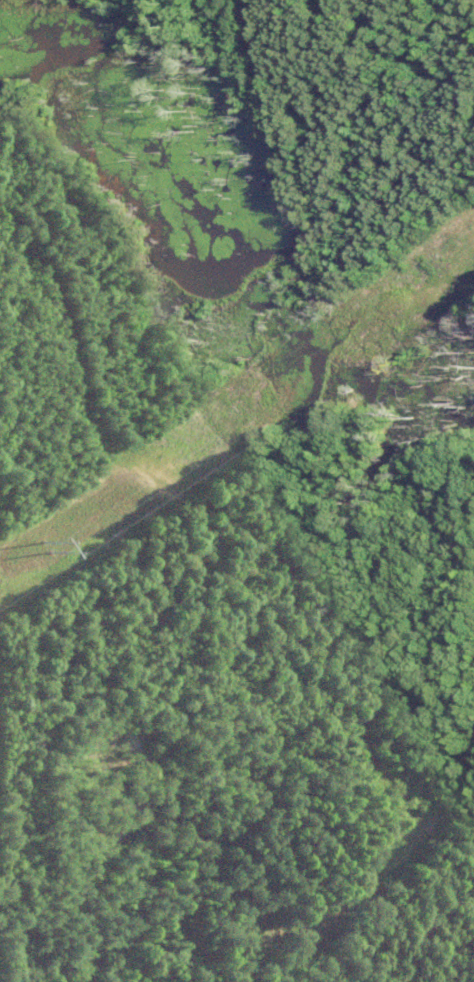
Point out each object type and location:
road: (382, 868)

